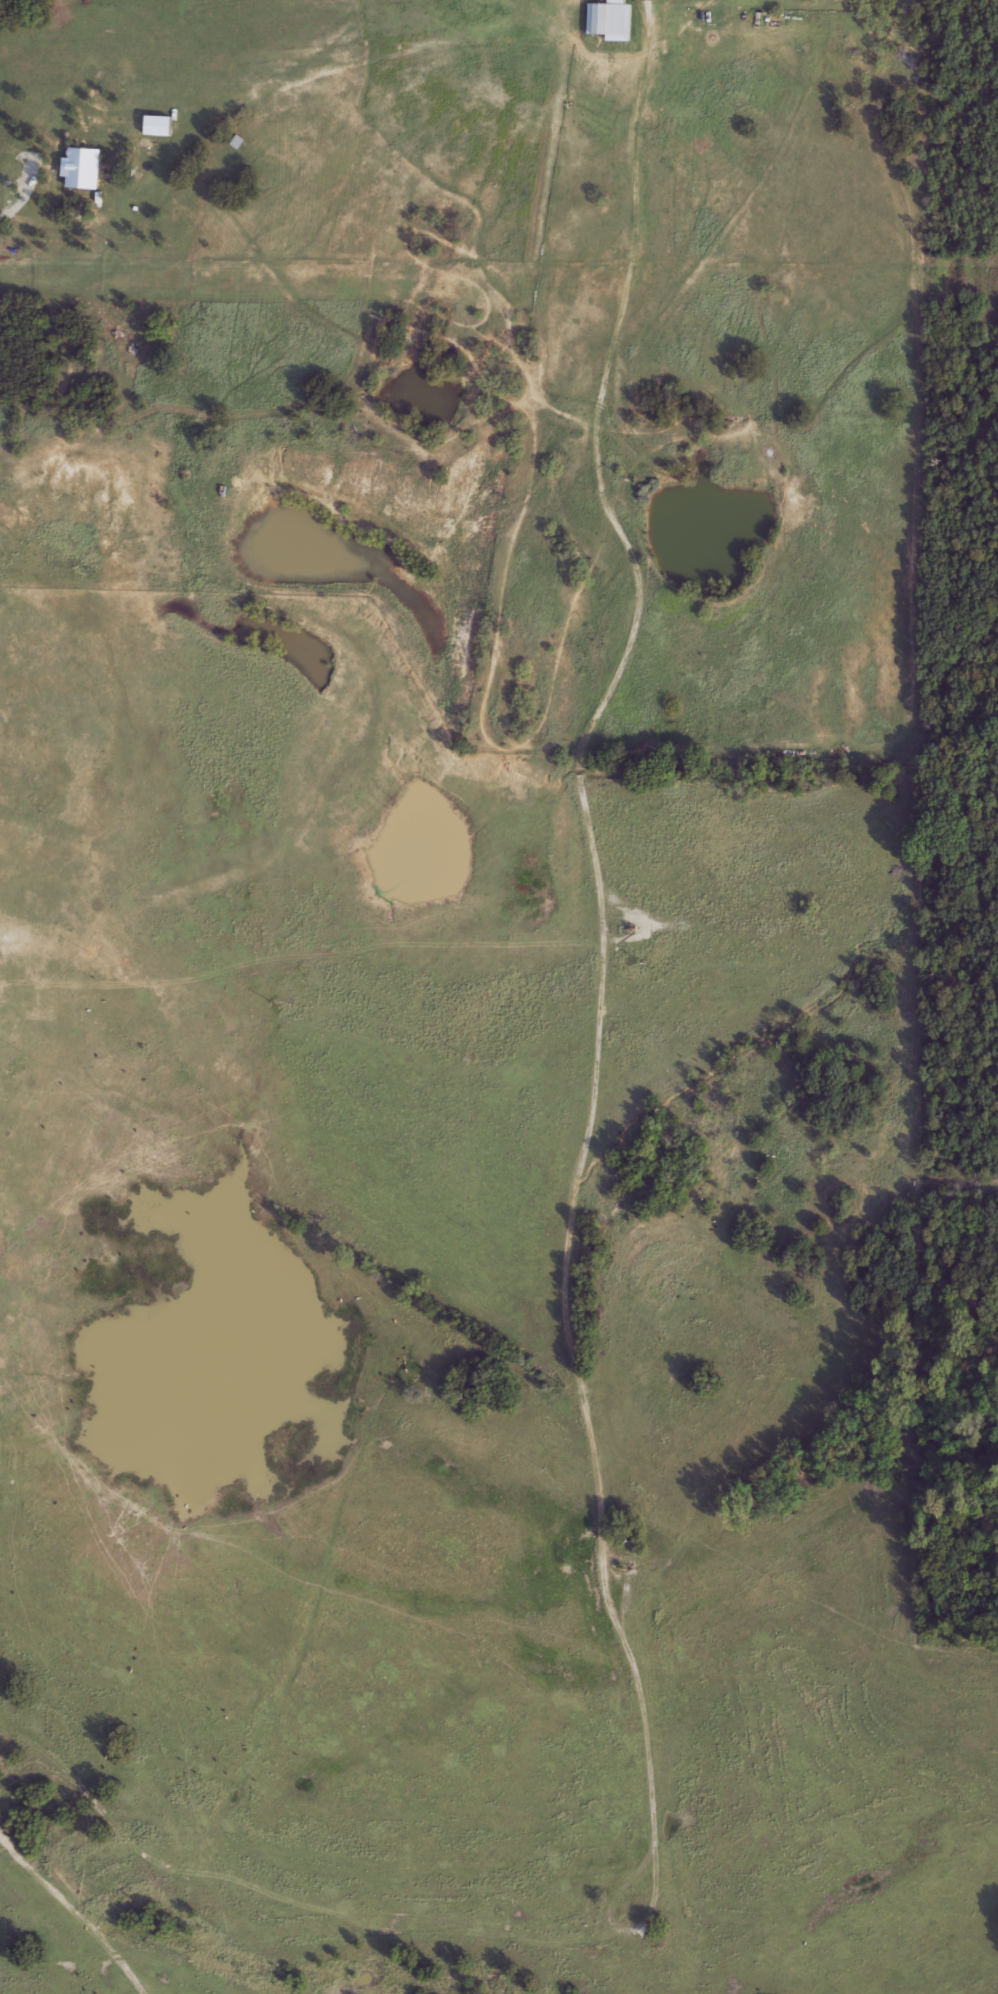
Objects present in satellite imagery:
building: (604, 17)
road: (26, 201)
road: (583, 765)
road: (60, 1917)

